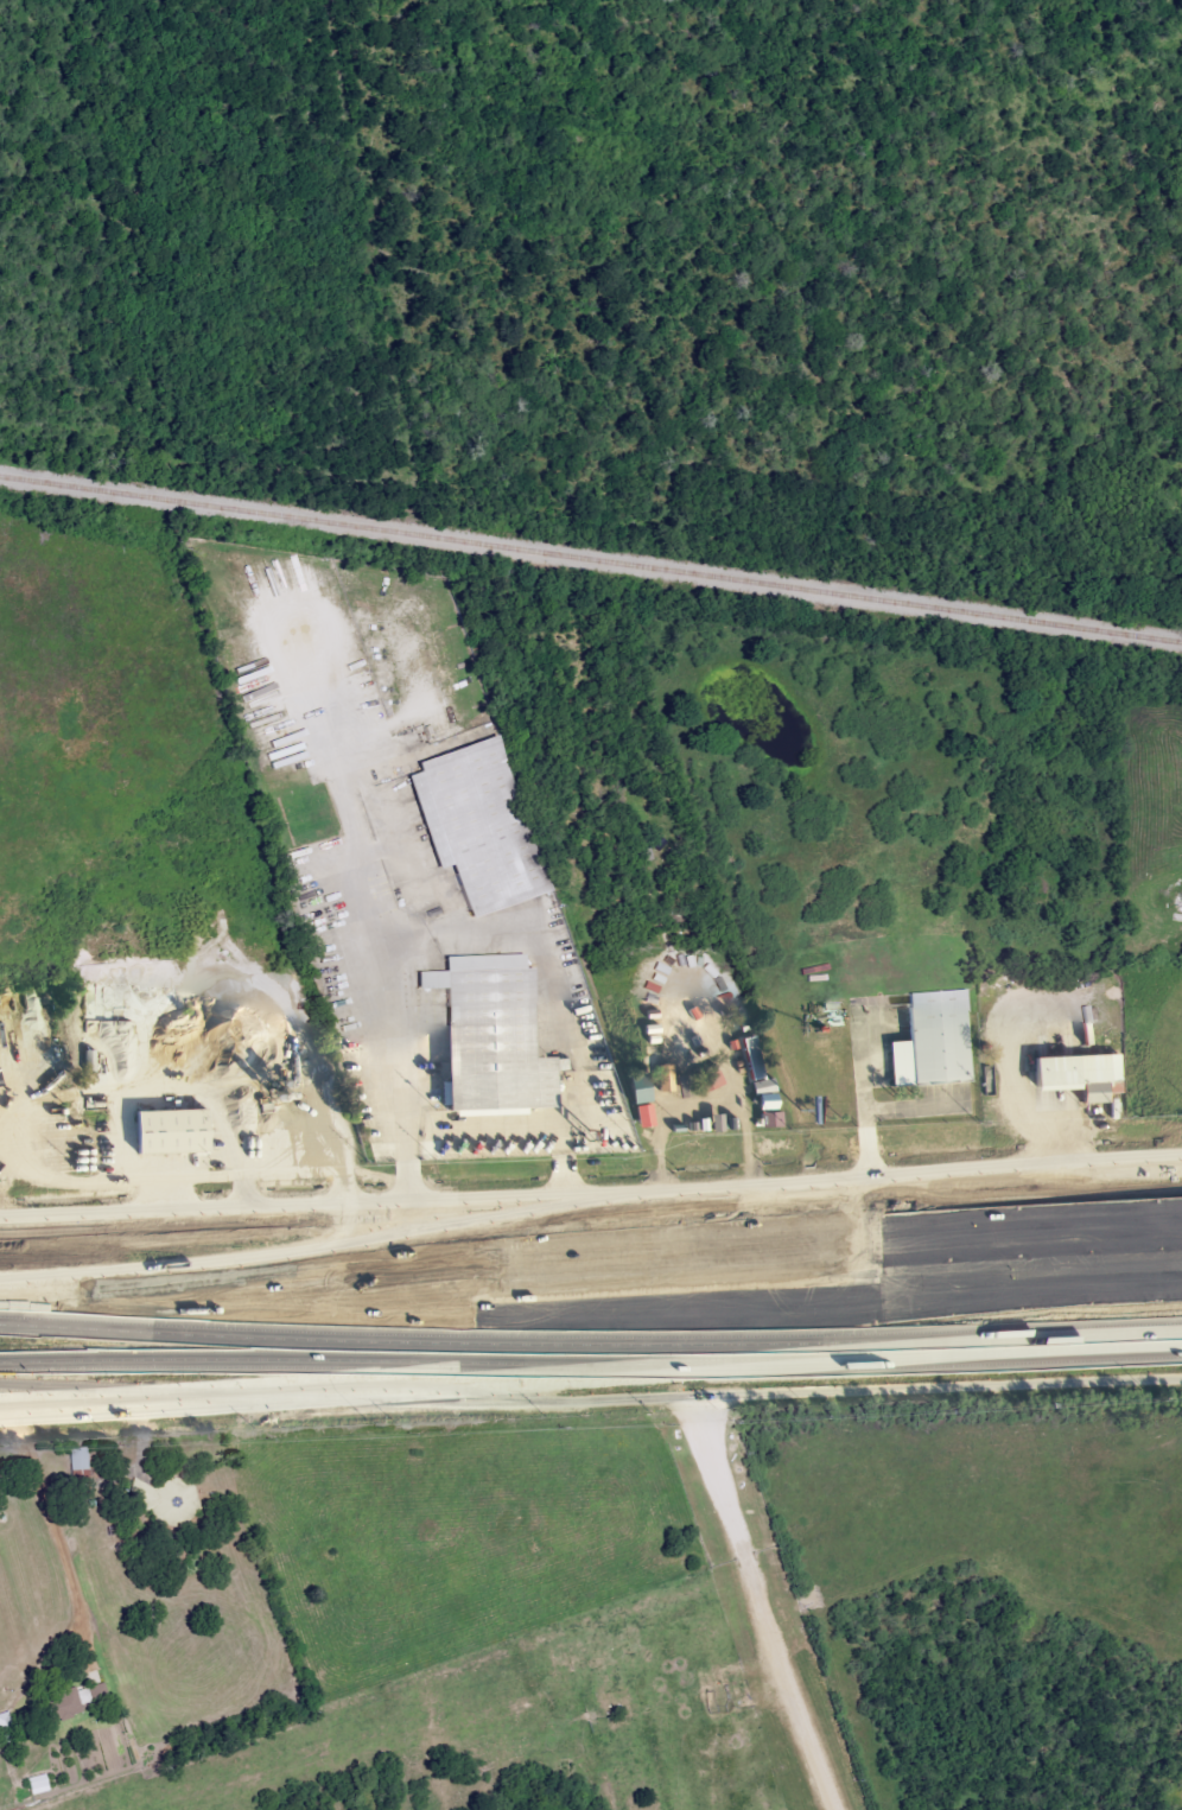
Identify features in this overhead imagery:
railway: (590, 559)
building: (468, 821)
road: (534, 939)
road: (396, 944)
road: (368, 961)
building: (655, 1003)
building: (485, 1030)
building: (938, 1035)
building: (758, 1059)
building: (901, 1062)
building: (1074, 1071)
building: (690, 1087)
building: (646, 1090)
building: (770, 1094)
building: (1092, 1097)
road: (701, 1104)
road: (866, 1105)
building: (649, 1116)
building: (169, 1131)
road: (797, 1188)
road: (206, 1214)
road: (788, 1258)
road: (197, 1275)
road: (1100, 1275)
road: (197, 1293)
road: (510, 1315)
road: (625, 1342)
road: (705, 1368)
road: (115, 1403)
building: (82, 1463)
road: (752, 1592)
building: (95, 1694)
building: (68, 1704)
building: (40, 1784)

